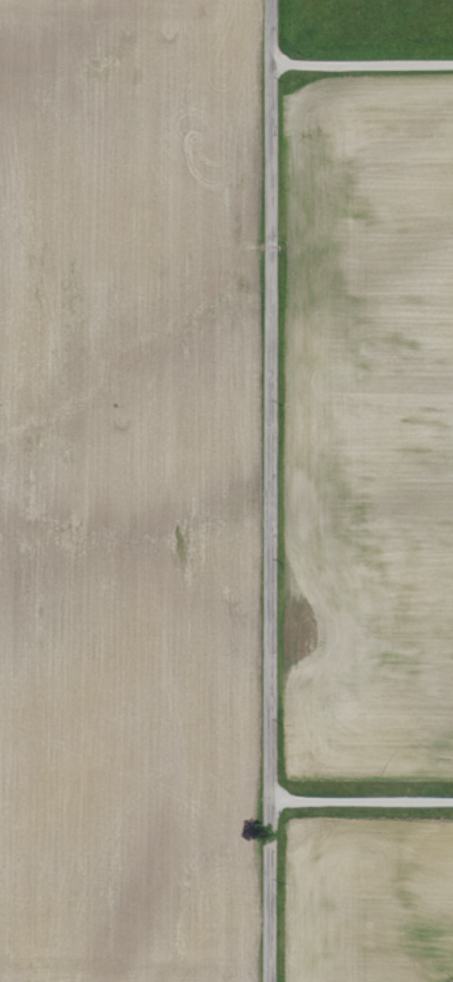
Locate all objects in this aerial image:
road: (360, 65)
road: (262, 490)
road: (355, 799)

